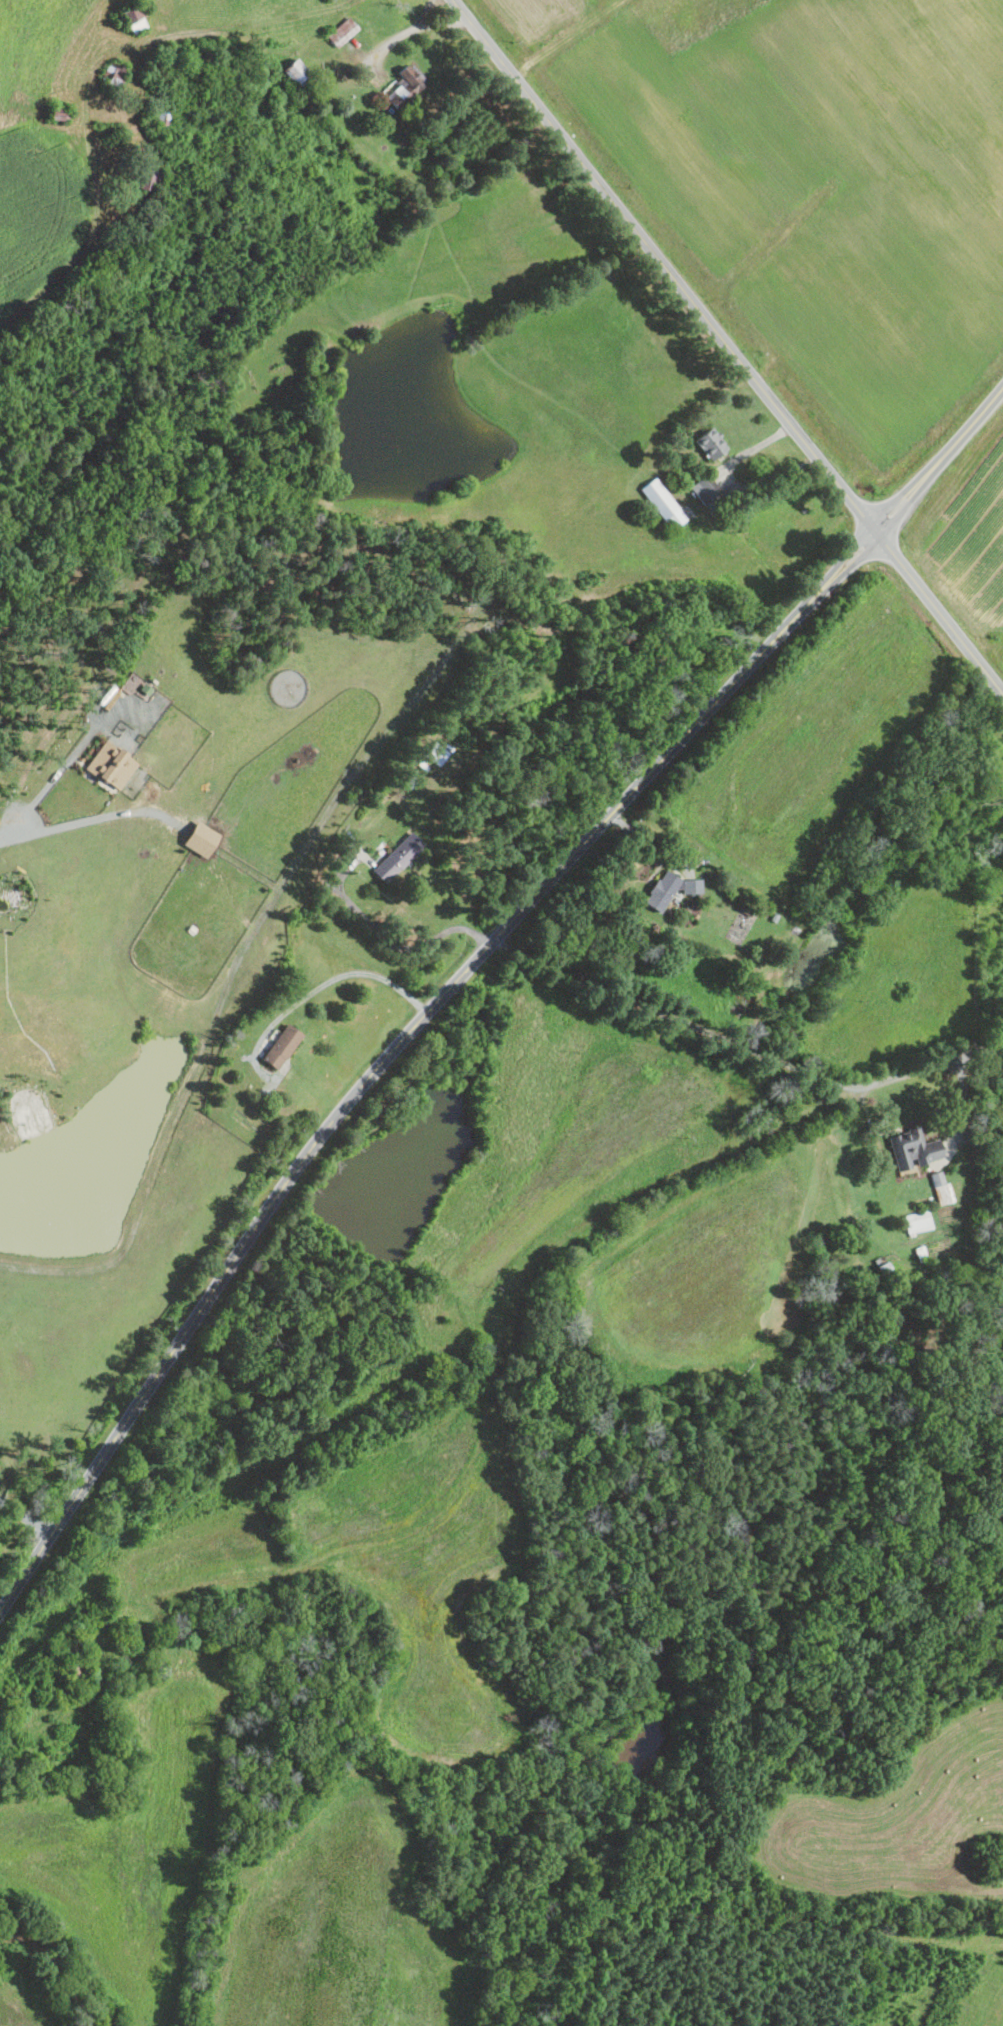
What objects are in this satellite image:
road: (426, 13)
building: (133, 18)
road: (442, 22)
road: (186, 31)
building: (342, 31)
road: (389, 40)
building: (294, 70)
building: (405, 84)
road: (727, 347)
building: (710, 443)
road: (729, 484)
building: (703, 491)
building: (662, 503)
building: (435, 753)
building: (110, 765)
road: (86, 819)
building: (199, 838)
road: (649, 842)
building: (397, 857)
building: (691, 886)
building: (661, 891)
road: (390, 938)
road: (465, 971)
road: (315, 989)
building: (280, 1046)
road: (745, 1049)
road: (965, 1101)
building: (912, 1149)
building: (917, 1222)
road: (26, 1517)

